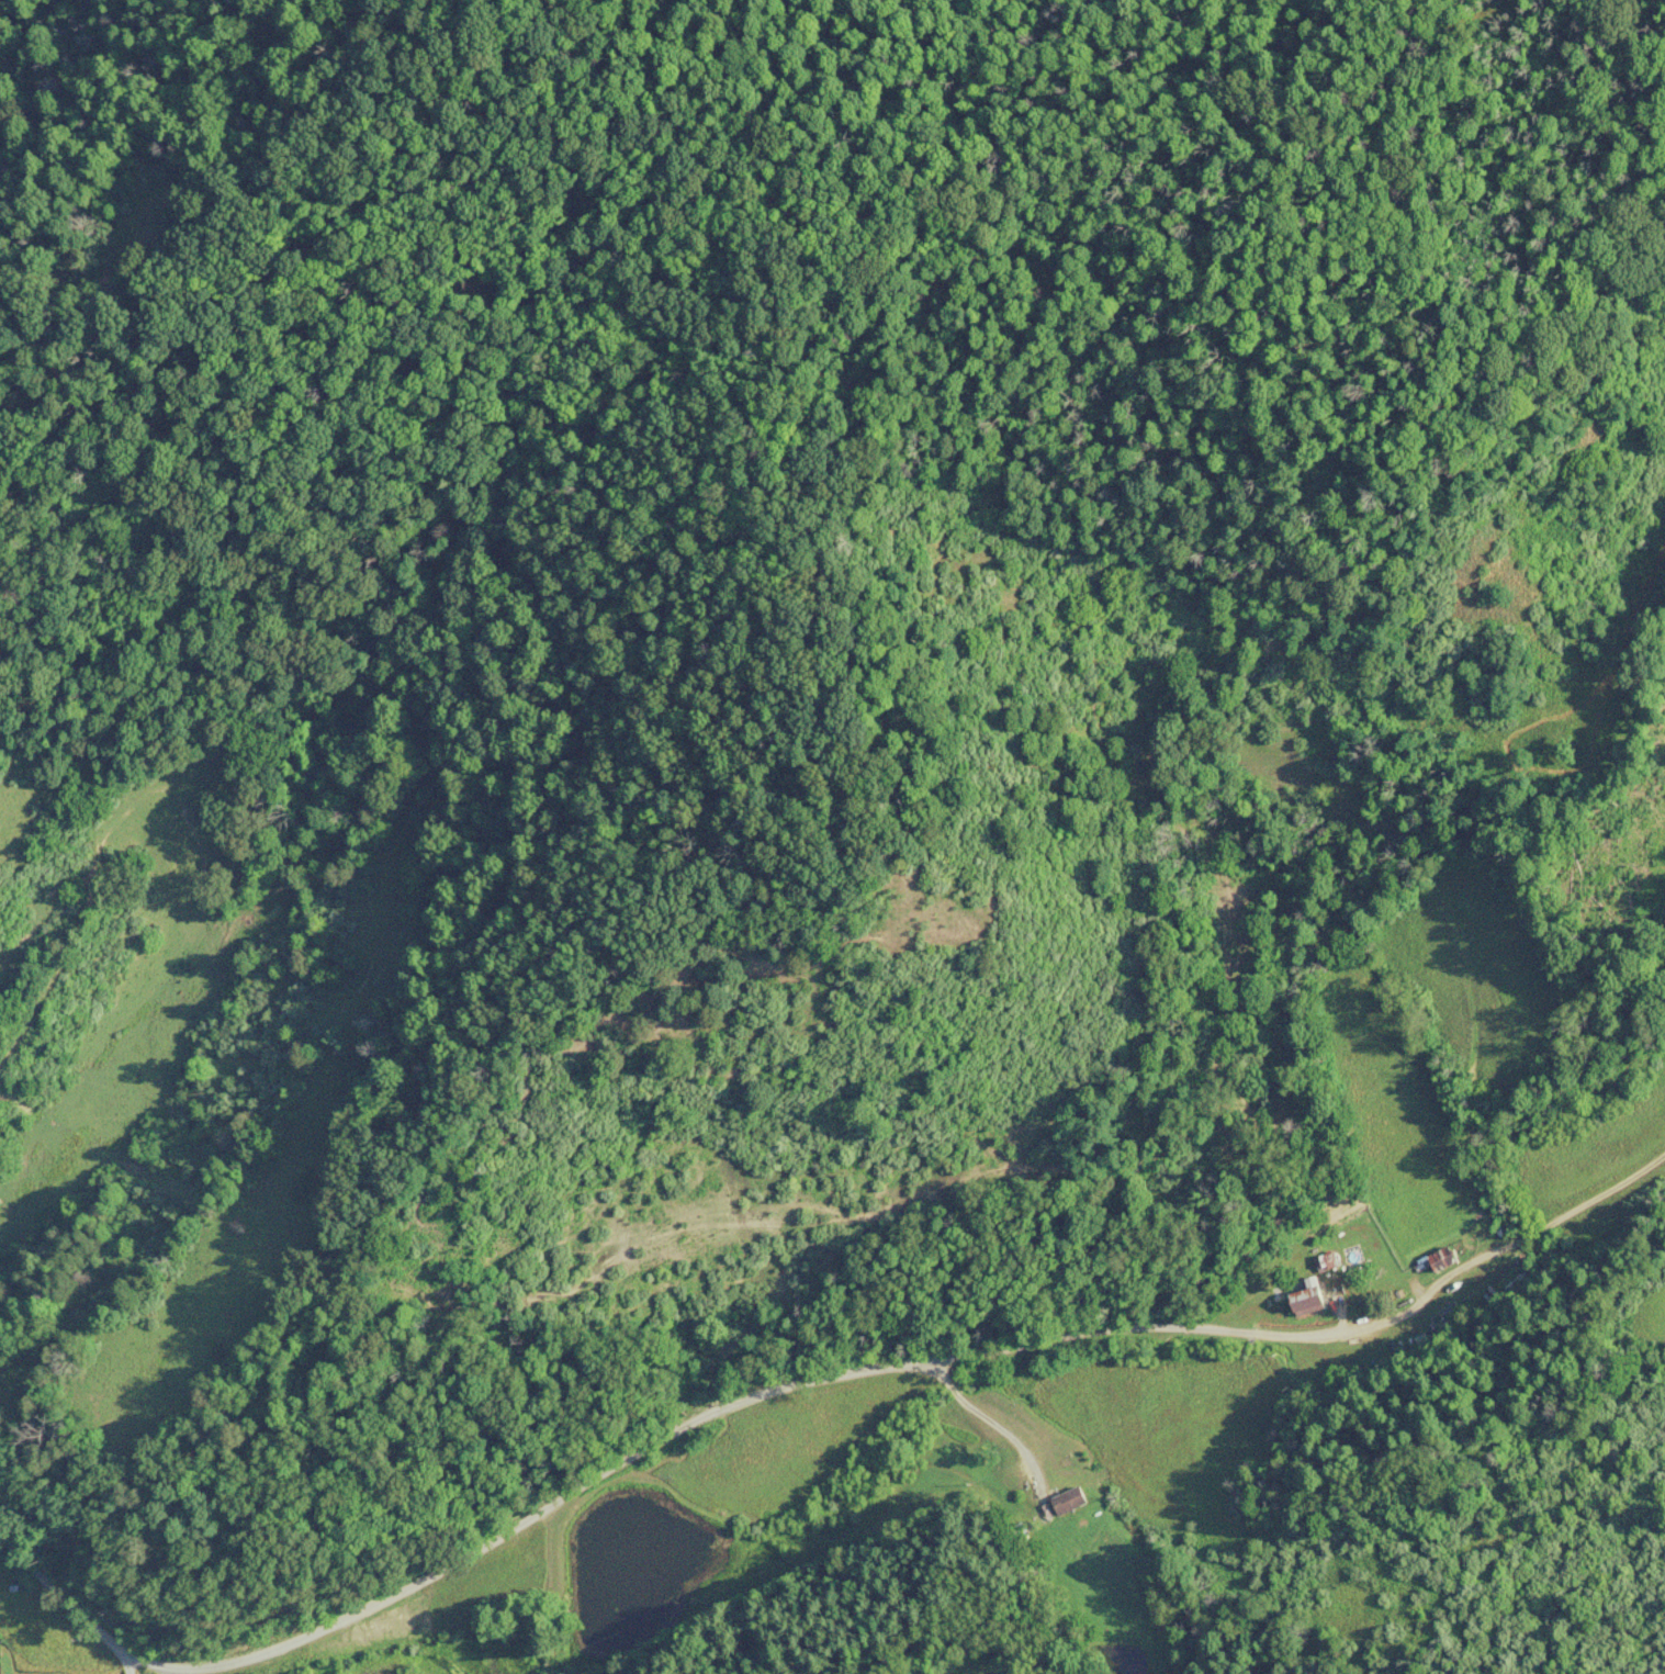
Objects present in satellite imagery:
building: (1429, 1257)
building: (1294, 1300)
road: (774, 1443)
road: (1039, 1501)
road: (92, 1671)

